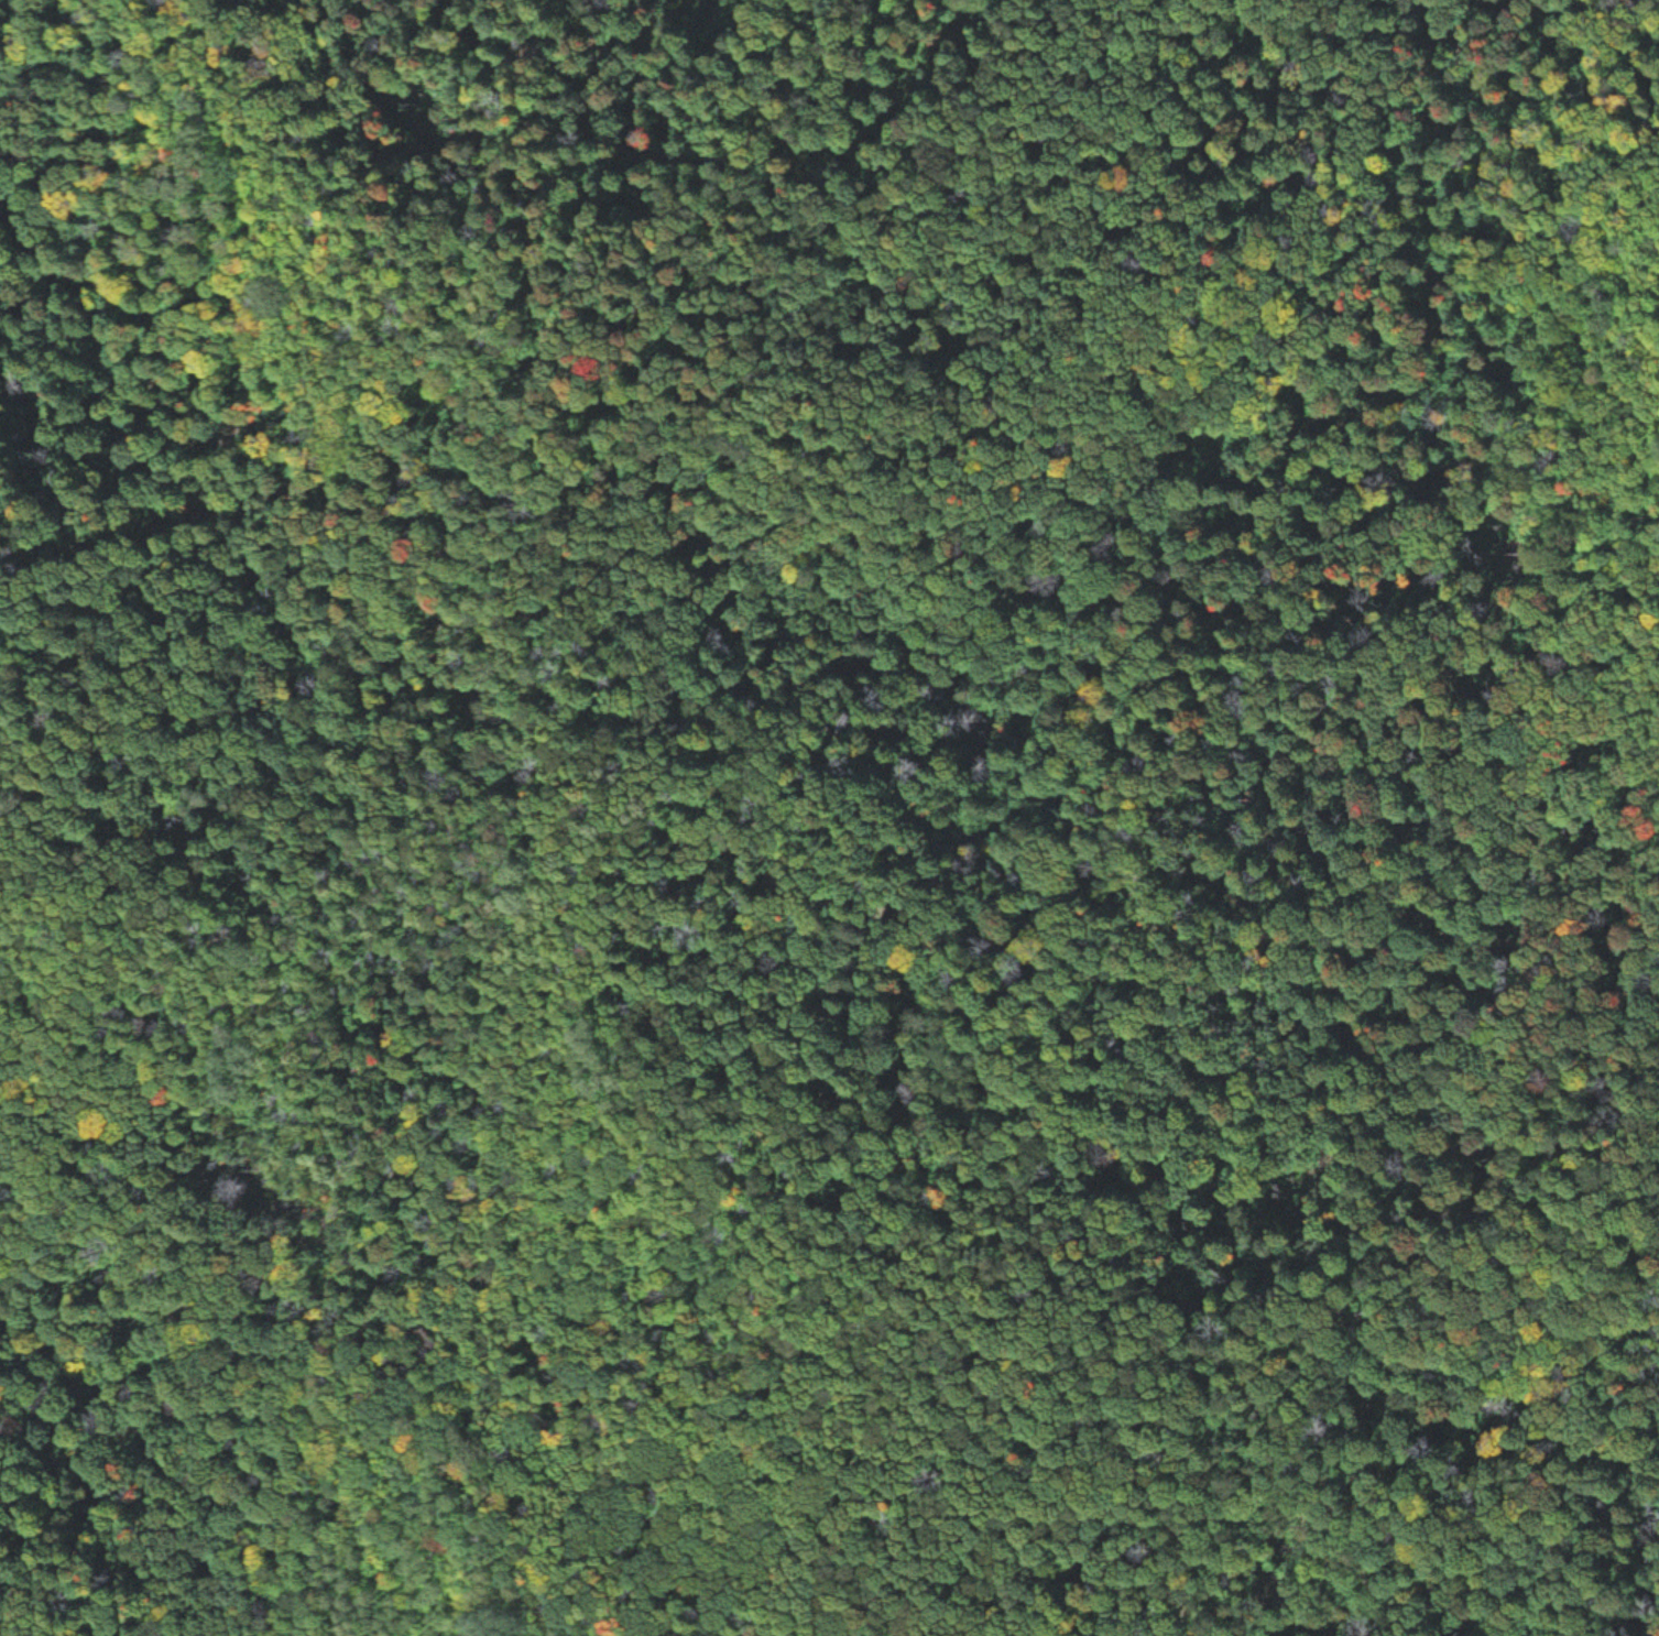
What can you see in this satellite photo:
road: (21, 62)
road: (525, 76)

